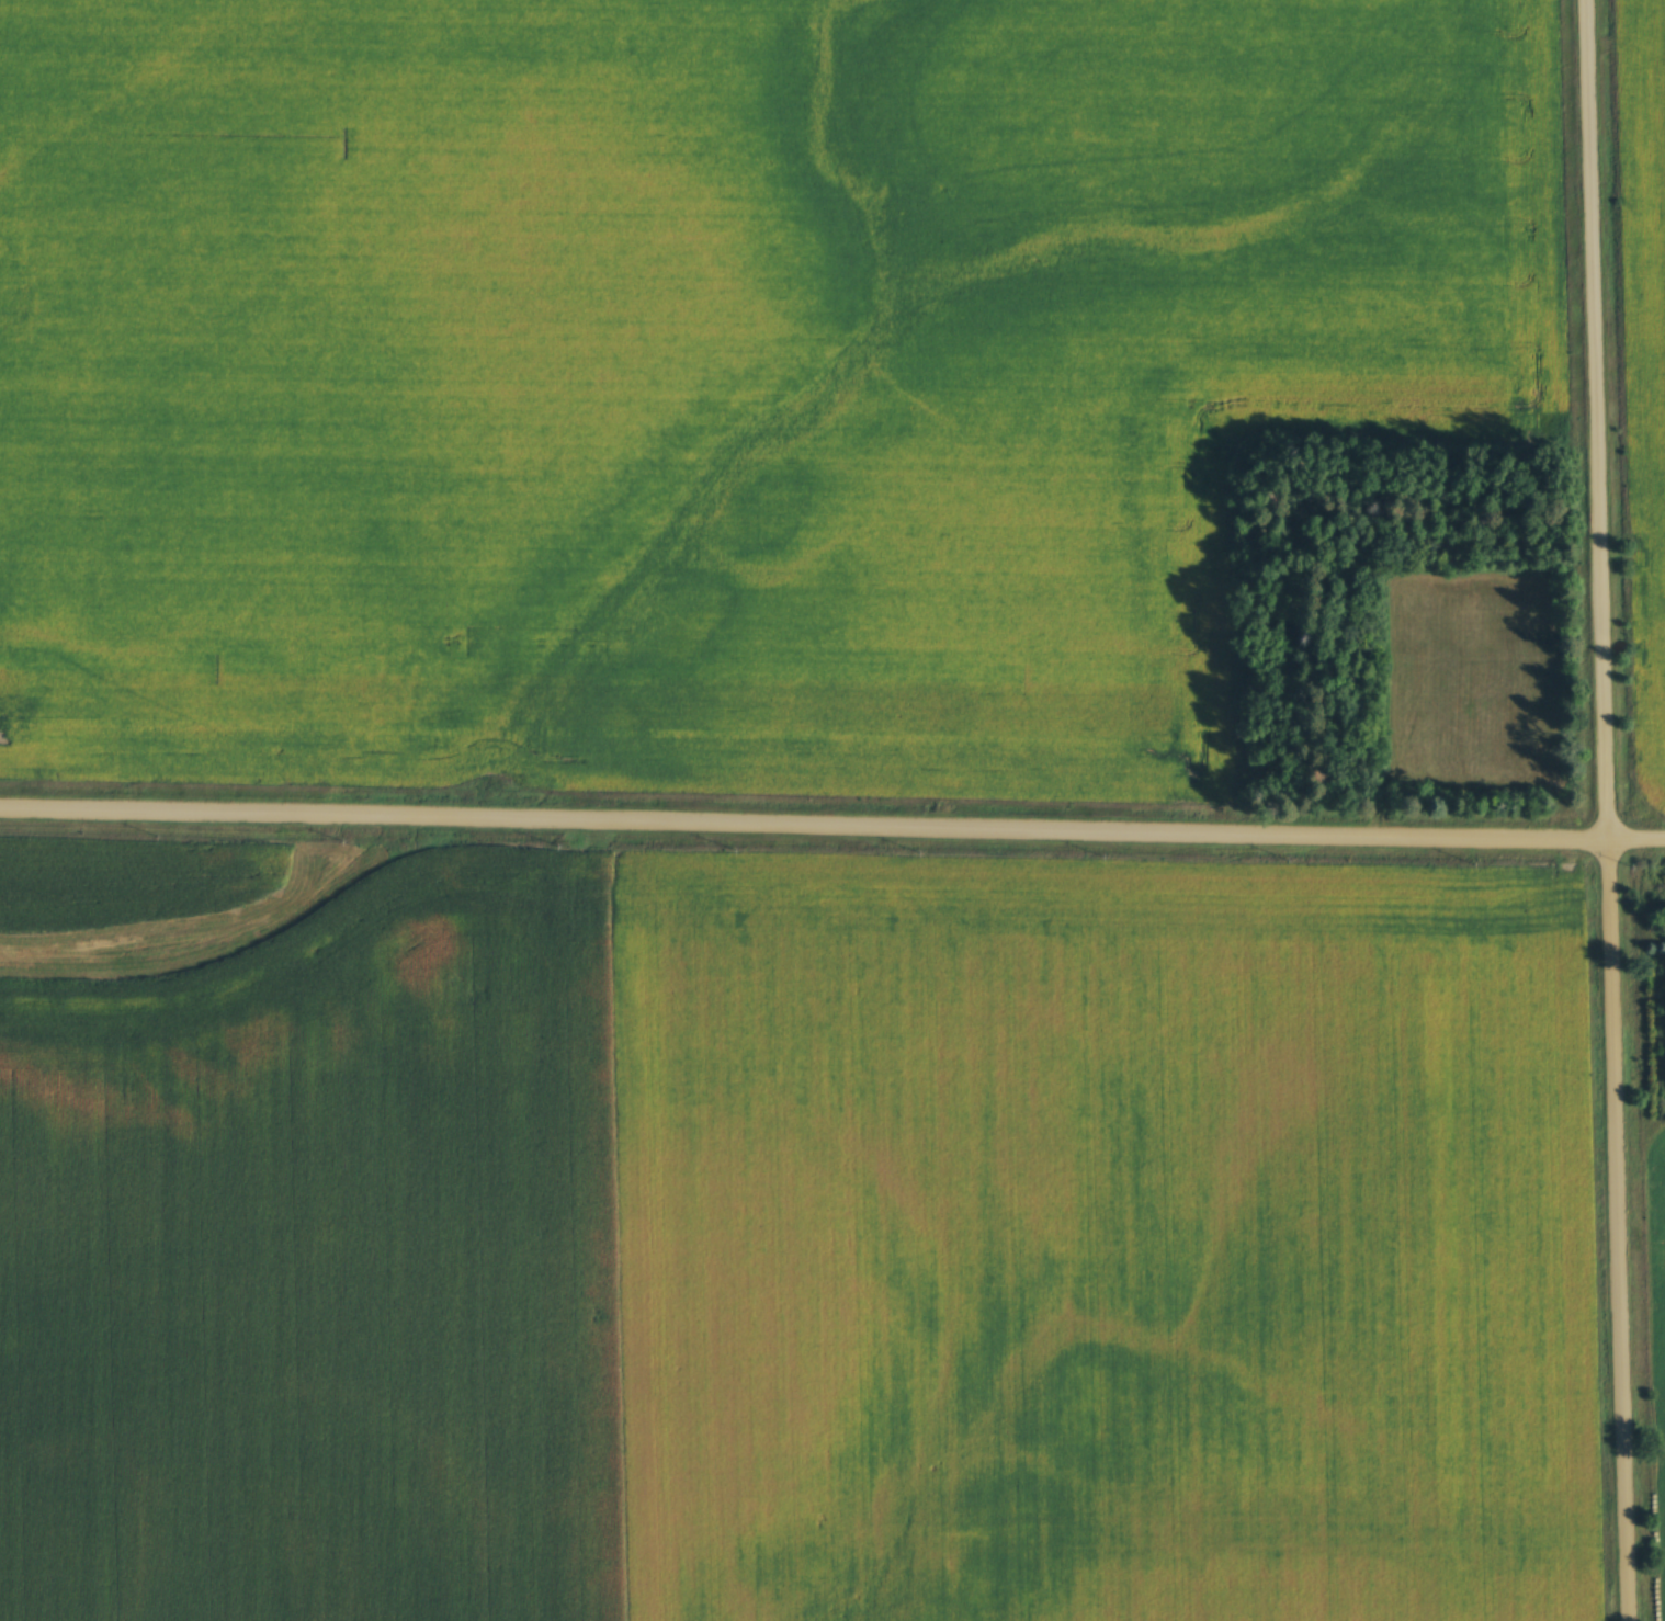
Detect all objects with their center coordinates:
road: (1607, 810)
road: (831, 826)

